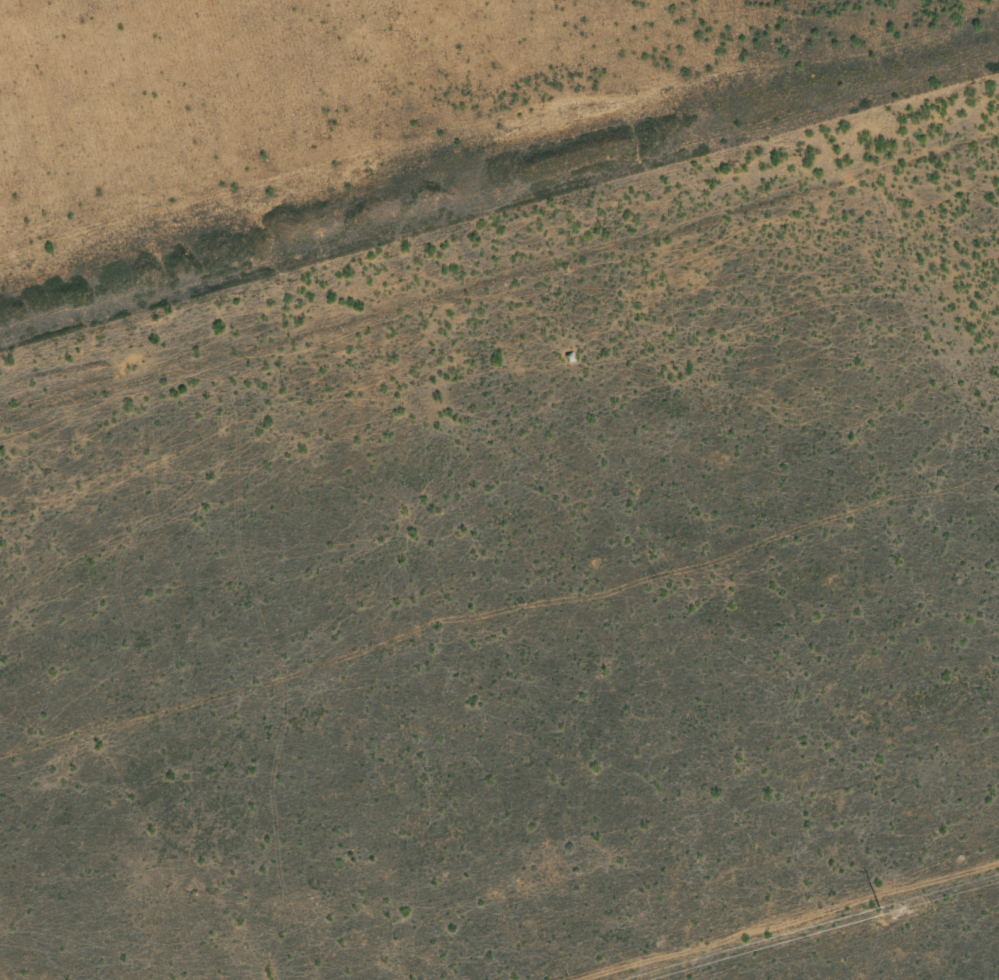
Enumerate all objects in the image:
power tower: (872, 907)

